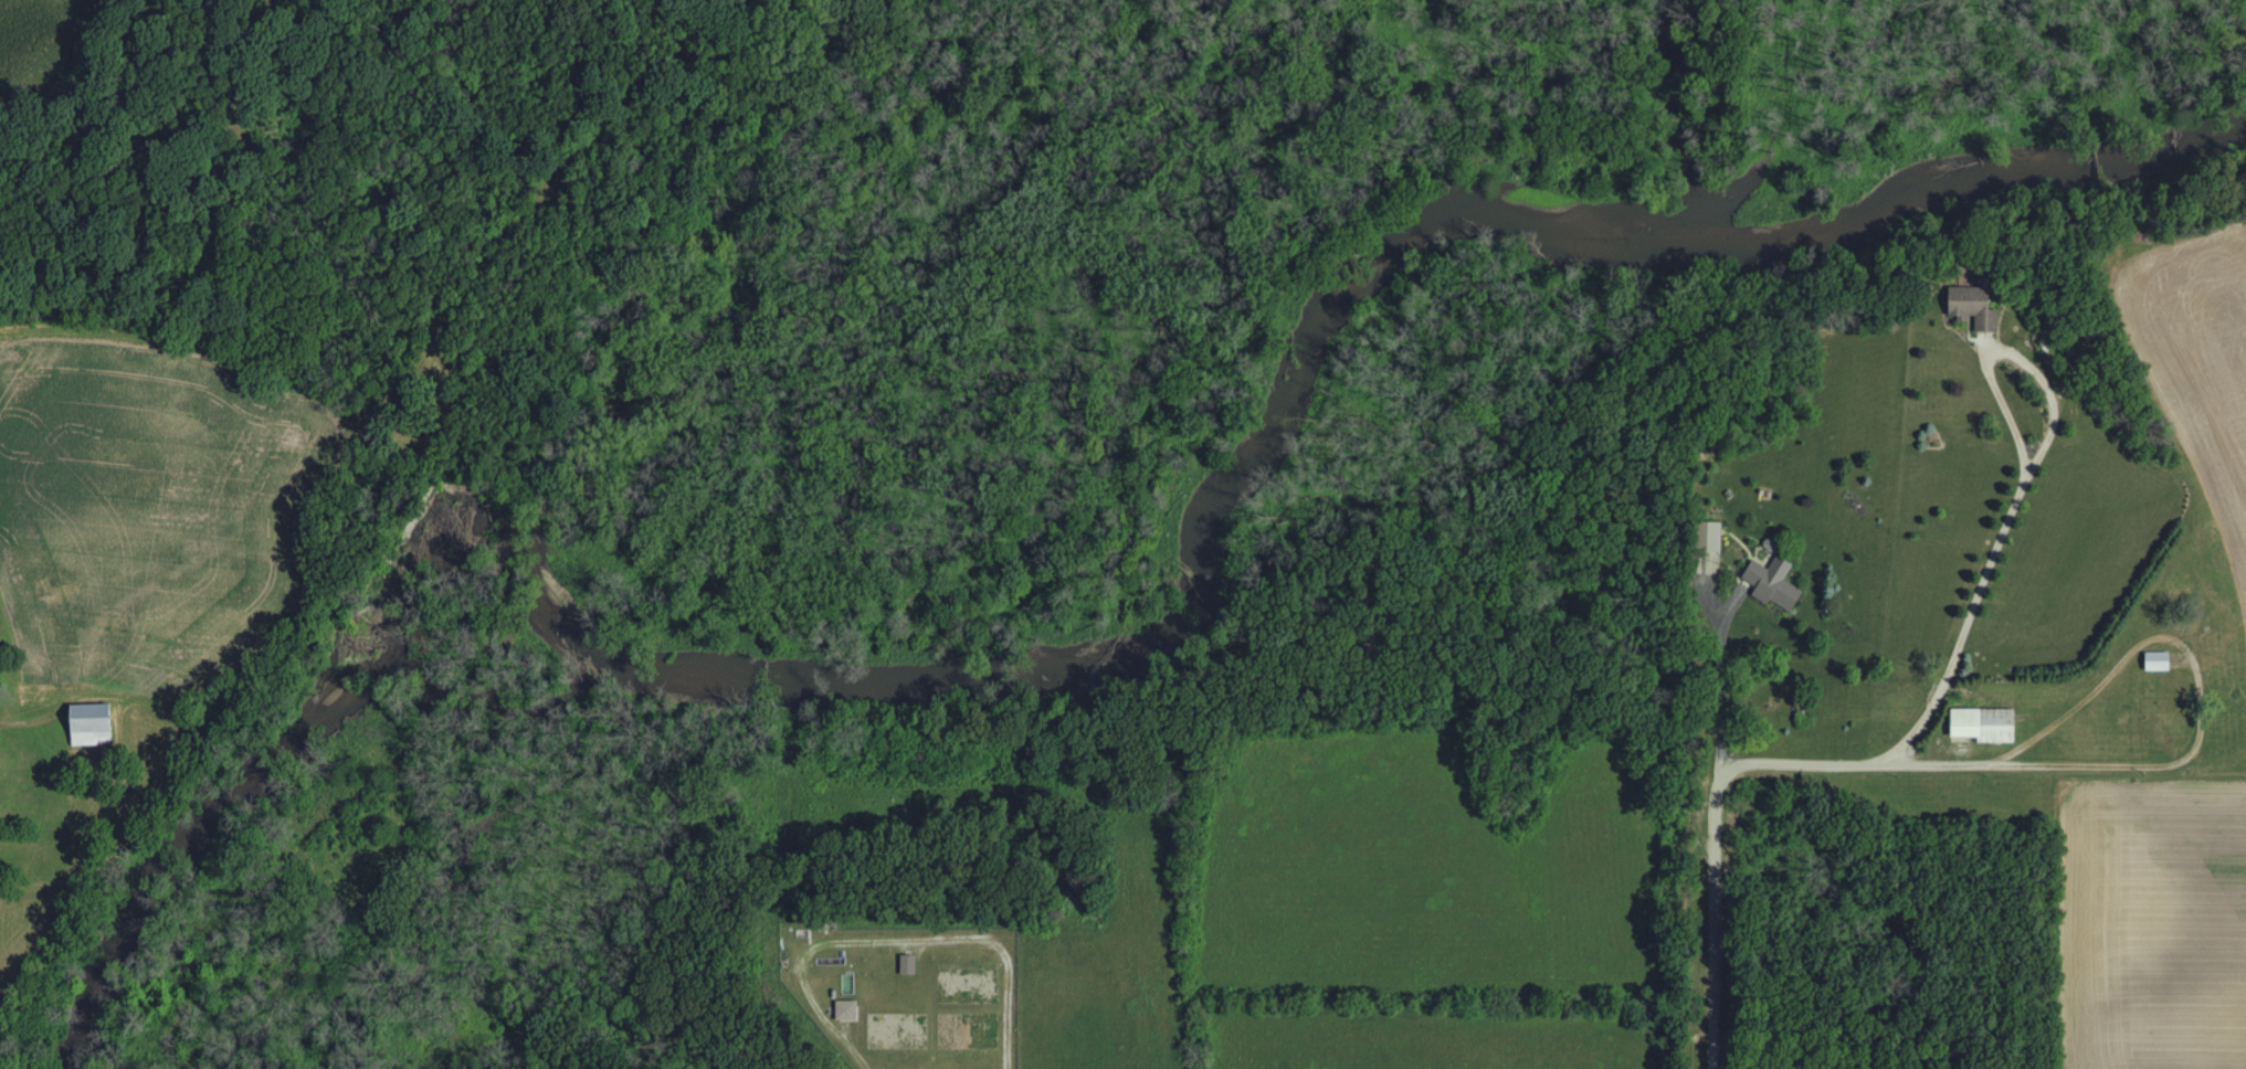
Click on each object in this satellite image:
building: (1968, 305)
road: (2026, 485)
building: (1708, 538)
building: (1770, 584)
building: (2155, 663)
road: (2124, 664)
road: (1718, 687)
building: (97, 726)
building: (1981, 727)
road: (1824, 763)
building: (913, 965)
building: (851, 1012)

